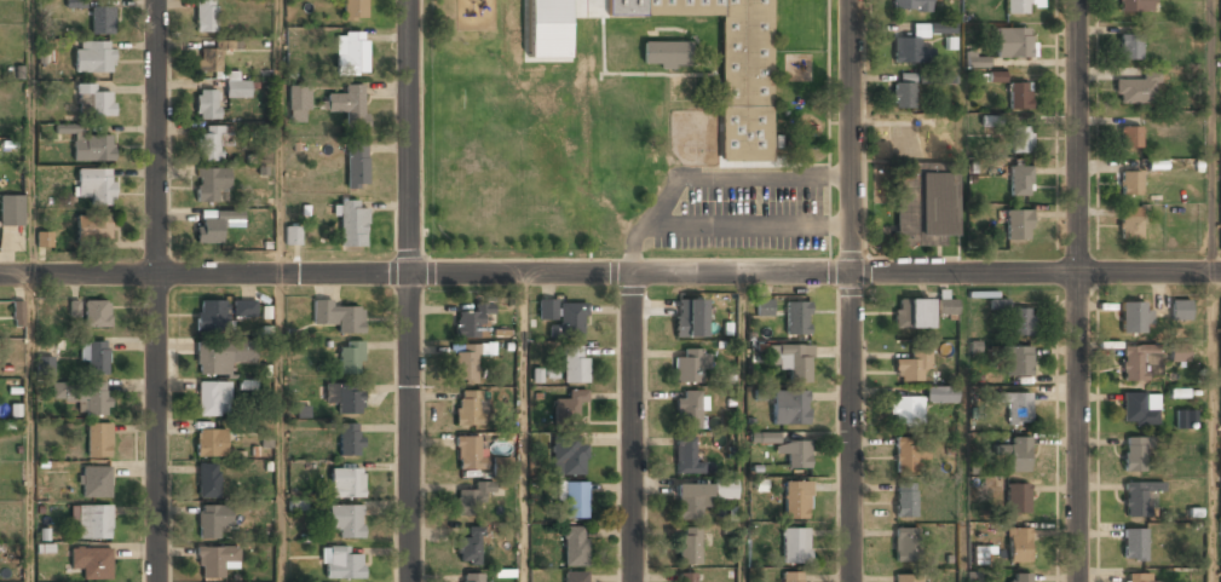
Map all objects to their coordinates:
building: (910, 6)
building: (1135, 6)
building: (1018, 7)
building: (353, 8)
building: (206, 16)
building: (100, 19)
building: (546, 29)
building: (941, 29)
building: (1012, 44)
building: (1130, 46)
building: (910, 47)
building: (351, 53)
building: (664, 53)
building: (212, 56)
building: (93, 57)
building: (977, 59)
building: (731, 68)
building: (220, 71)
building: (996, 76)
building: (927, 77)
building: (237, 90)
building: (1134, 90)
building: (900, 96)
building: (1018, 97)
building: (93, 102)
building: (206, 104)
building: (298, 104)
building: (349, 104)
road: (33, 137)
road: (278, 137)
building: (1129, 137)
road: (1213, 137)
building: (1020, 140)
building: (211, 144)
building: (92, 146)
building: (357, 165)
building: (1019, 180)
building: (1129, 181)
building: (96, 184)
building: (211, 184)
building: (1220, 194)
building: (923, 204)
building: (11, 209)
building: (352, 221)
building: (1129, 221)
building: (214, 224)
building: (1018, 224)
building: (93, 227)
building: (293, 235)
building: (44, 238)
road: (610, 276)
road: (157, 290)
road: (407, 290)
road: (851, 290)
road: (1077, 290)
building: (946, 302)
building: (998, 302)
building: (764, 307)
building: (67, 309)
building: (244, 309)
building: (547, 309)
building: (1180, 310)
building: (17, 311)
building: (97, 312)
building: (912, 312)
building: (338, 315)
building: (211, 316)
building: (690, 317)
building: (796, 317)
building: (1134, 317)
building: (471, 321)
building: (569, 321)
building: (1020, 321)
building: (1179, 351)
building: (94, 356)
building: (350, 356)
building: (220, 357)
building: (790, 359)
building: (1018, 359)
building: (465, 363)
building: (574, 363)
building: (690, 364)
building: (1140, 364)
building: (45, 365)
building: (911, 368)
building: (82, 396)
building: (345, 397)
building: (213, 398)
building: (918, 404)
building: (569, 405)
building: (1016, 405)
building: (789, 407)
building: (468, 408)
building: (687, 409)
building: (1139, 409)
building: (1186, 420)
road: (1214, 427)
road: (34, 428)
road: (281, 428)
road: (523, 428)
road: (743, 428)
road: (633, 430)
building: (350, 438)
building: (98, 440)
building: (211, 443)
building: (470, 453)
building: (1015, 453)
building: (795, 454)
building: (908, 454)
building: (1135, 454)
building: (686, 455)
building: (568, 456)
building: (208, 480)
building: (346, 482)
building: (94, 483)
building: (724, 489)
building: (472, 497)
building: (1016, 499)
building: (575, 500)
building: (689, 500)
building: (905, 500)
building: (1134, 500)
building: (796, 501)
building: (213, 519)
building: (346, 519)
building: (93, 523)
building: (904, 544)
building: (1134, 544)
building: (572, 546)
building: (689, 546)
building: (795, 546)
building: (1018, 546)
building: (470, 547)
building: (215, 560)
building: (92, 564)
building: (341, 564)
building: (471, 577)
building: (575, 577)
building: (686, 577)
building: (794, 577)
building: (1018, 577)
building: (1140, 577)
building: (906, 578)

